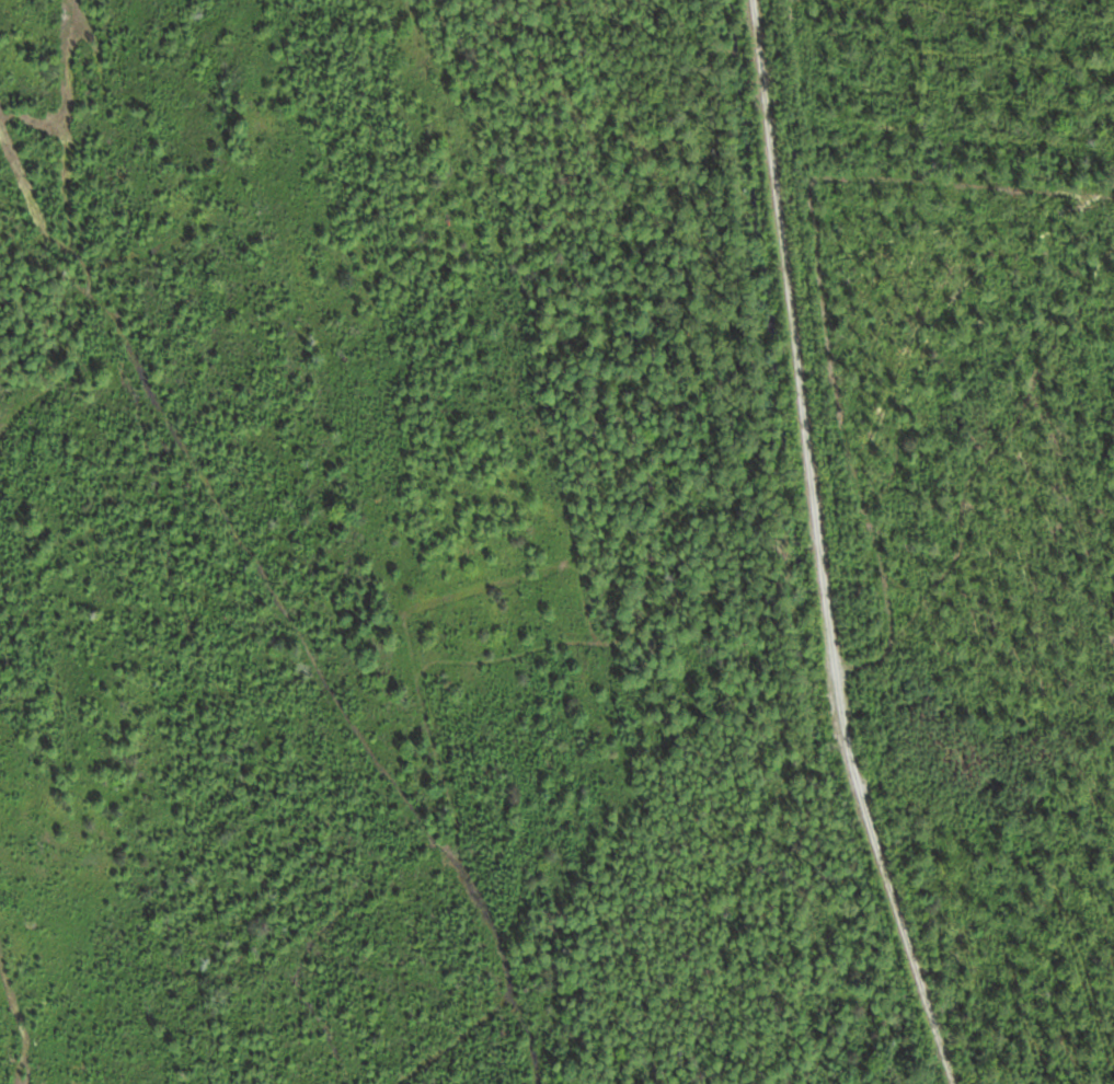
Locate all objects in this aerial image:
road: (860, 543)

